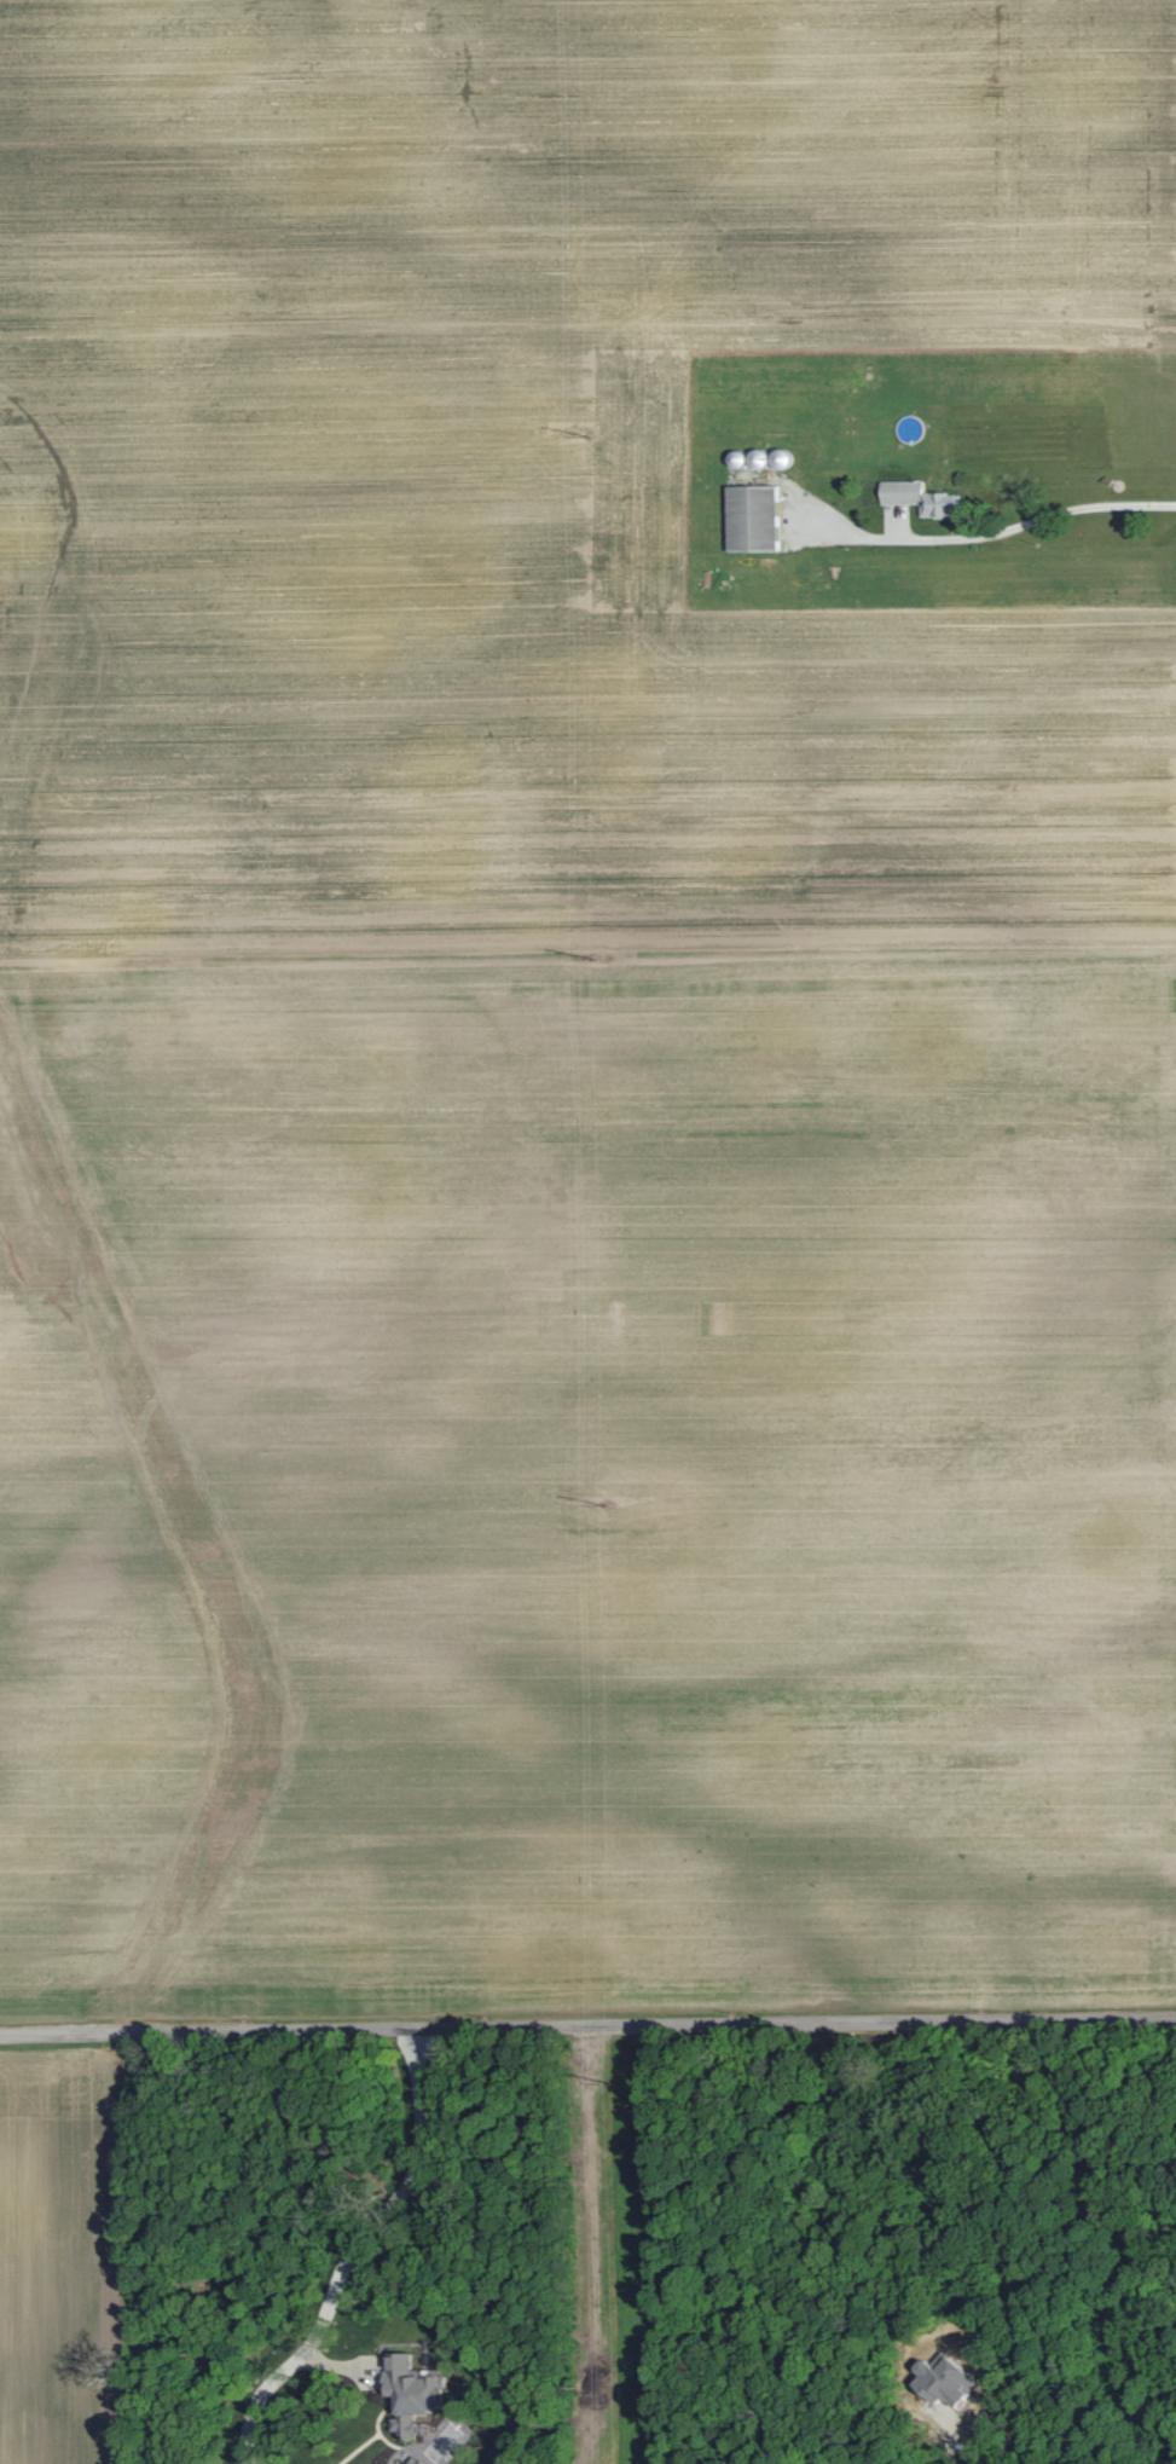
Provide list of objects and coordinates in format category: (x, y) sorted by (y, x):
power tower: (591, 435)
building: (761, 458)
building: (784, 458)
building: (740, 459)
crop: (566, 476)
building: (905, 491)
building: (944, 503)
building: (757, 517)
road: (997, 532)
power tower: (597, 956)
crop: (587, 1485)
power tower: (606, 1503)
road: (587, 2026)
power tower: (612, 2081)
road: (352, 2248)
building: (412, 2393)
building: (415, 2460)

